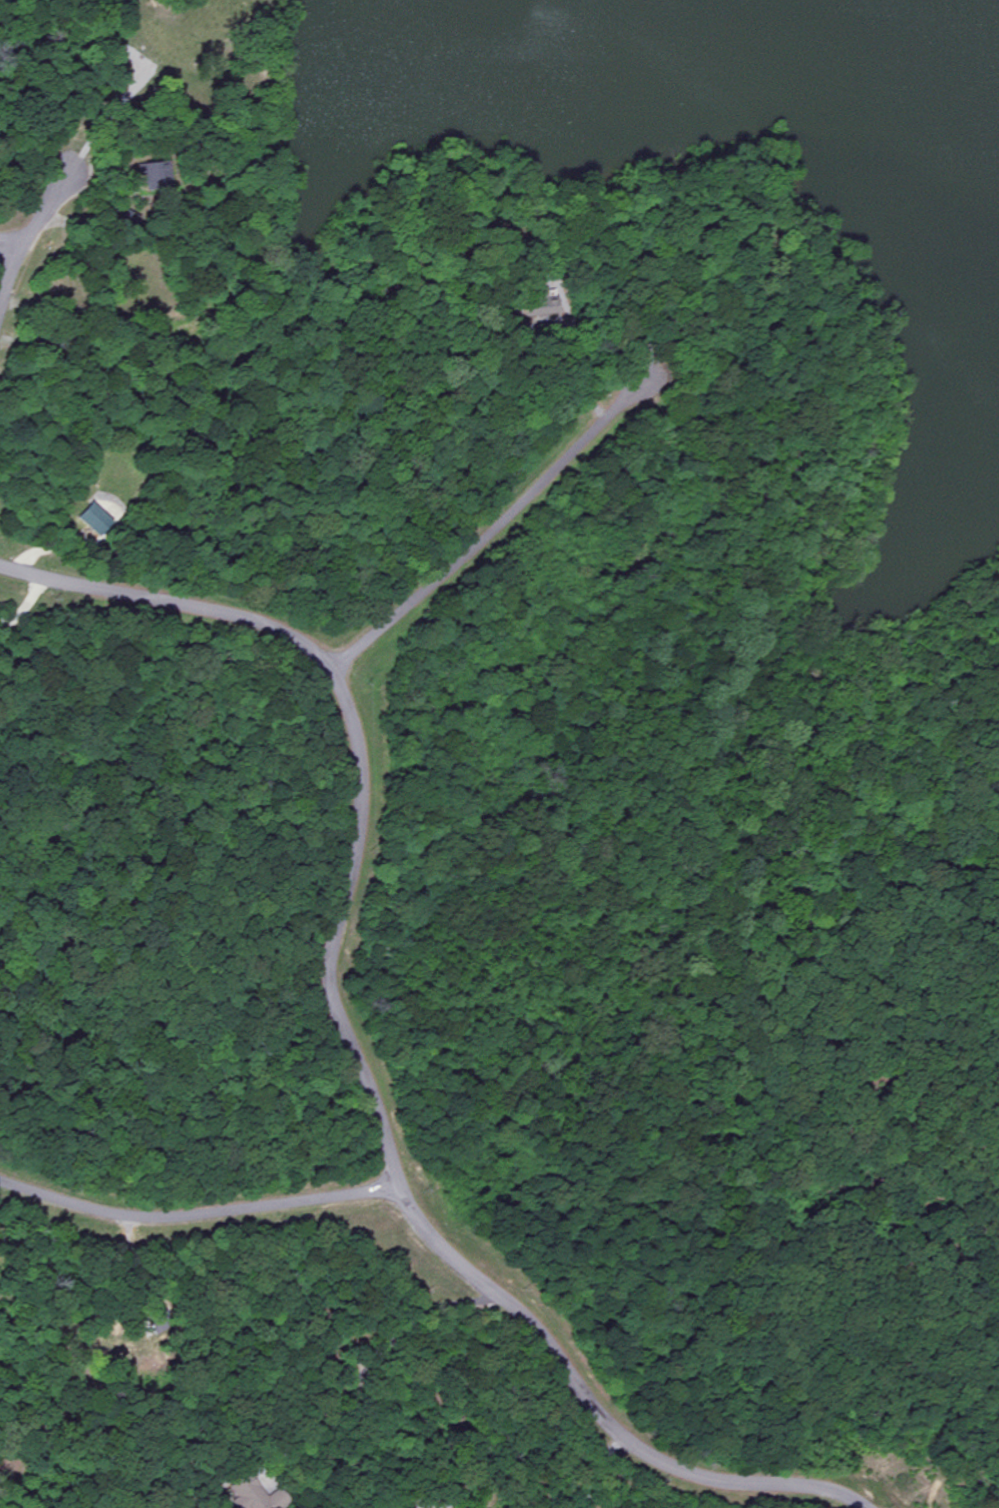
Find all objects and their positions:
building: (154, 174)
road: (24, 238)
road: (9, 248)
building: (92, 519)
road: (486, 533)
road: (7, 581)
road: (357, 756)
road: (673, 1046)
road: (196, 1216)
road: (590, 1407)
building: (257, 1492)

